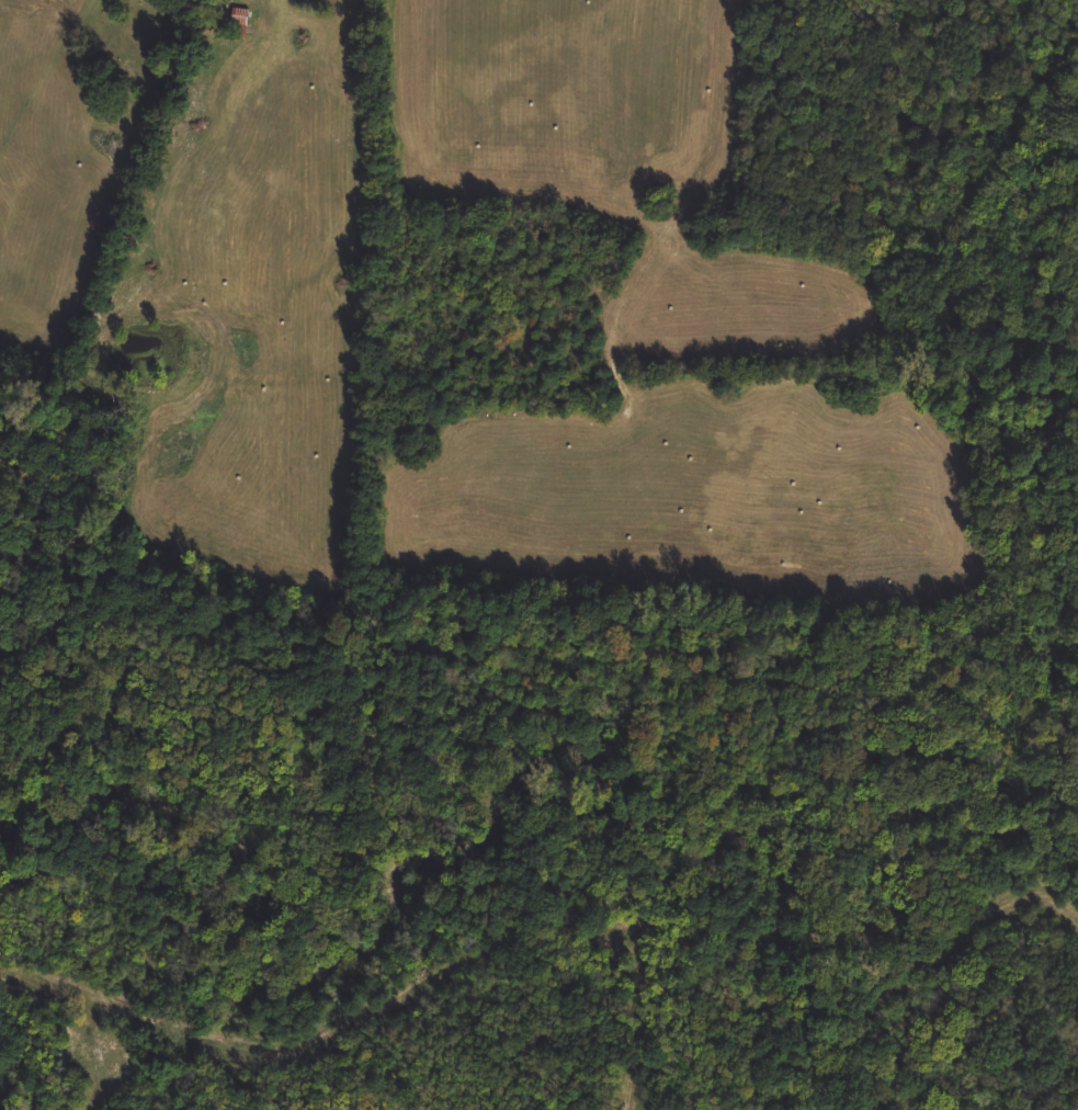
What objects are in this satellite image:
building: (240, 23)
park: (164, 90)

